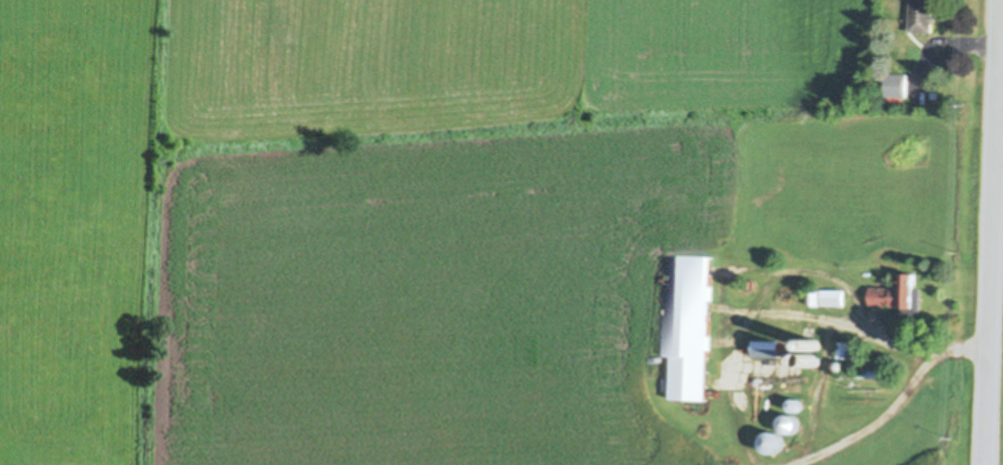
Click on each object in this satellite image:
building: (921, 15)
building: (895, 86)
crop: (413, 216)
road: (992, 232)
building: (899, 295)
building: (815, 297)
building: (832, 297)
road: (857, 310)
building: (689, 324)
building: (813, 343)
building: (768, 349)
building: (845, 349)
building: (813, 359)
building: (840, 364)
building: (875, 372)
building: (795, 403)
building: (789, 423)
road: (829, 436)
building: (773, 441)
crop: (924, 451)

